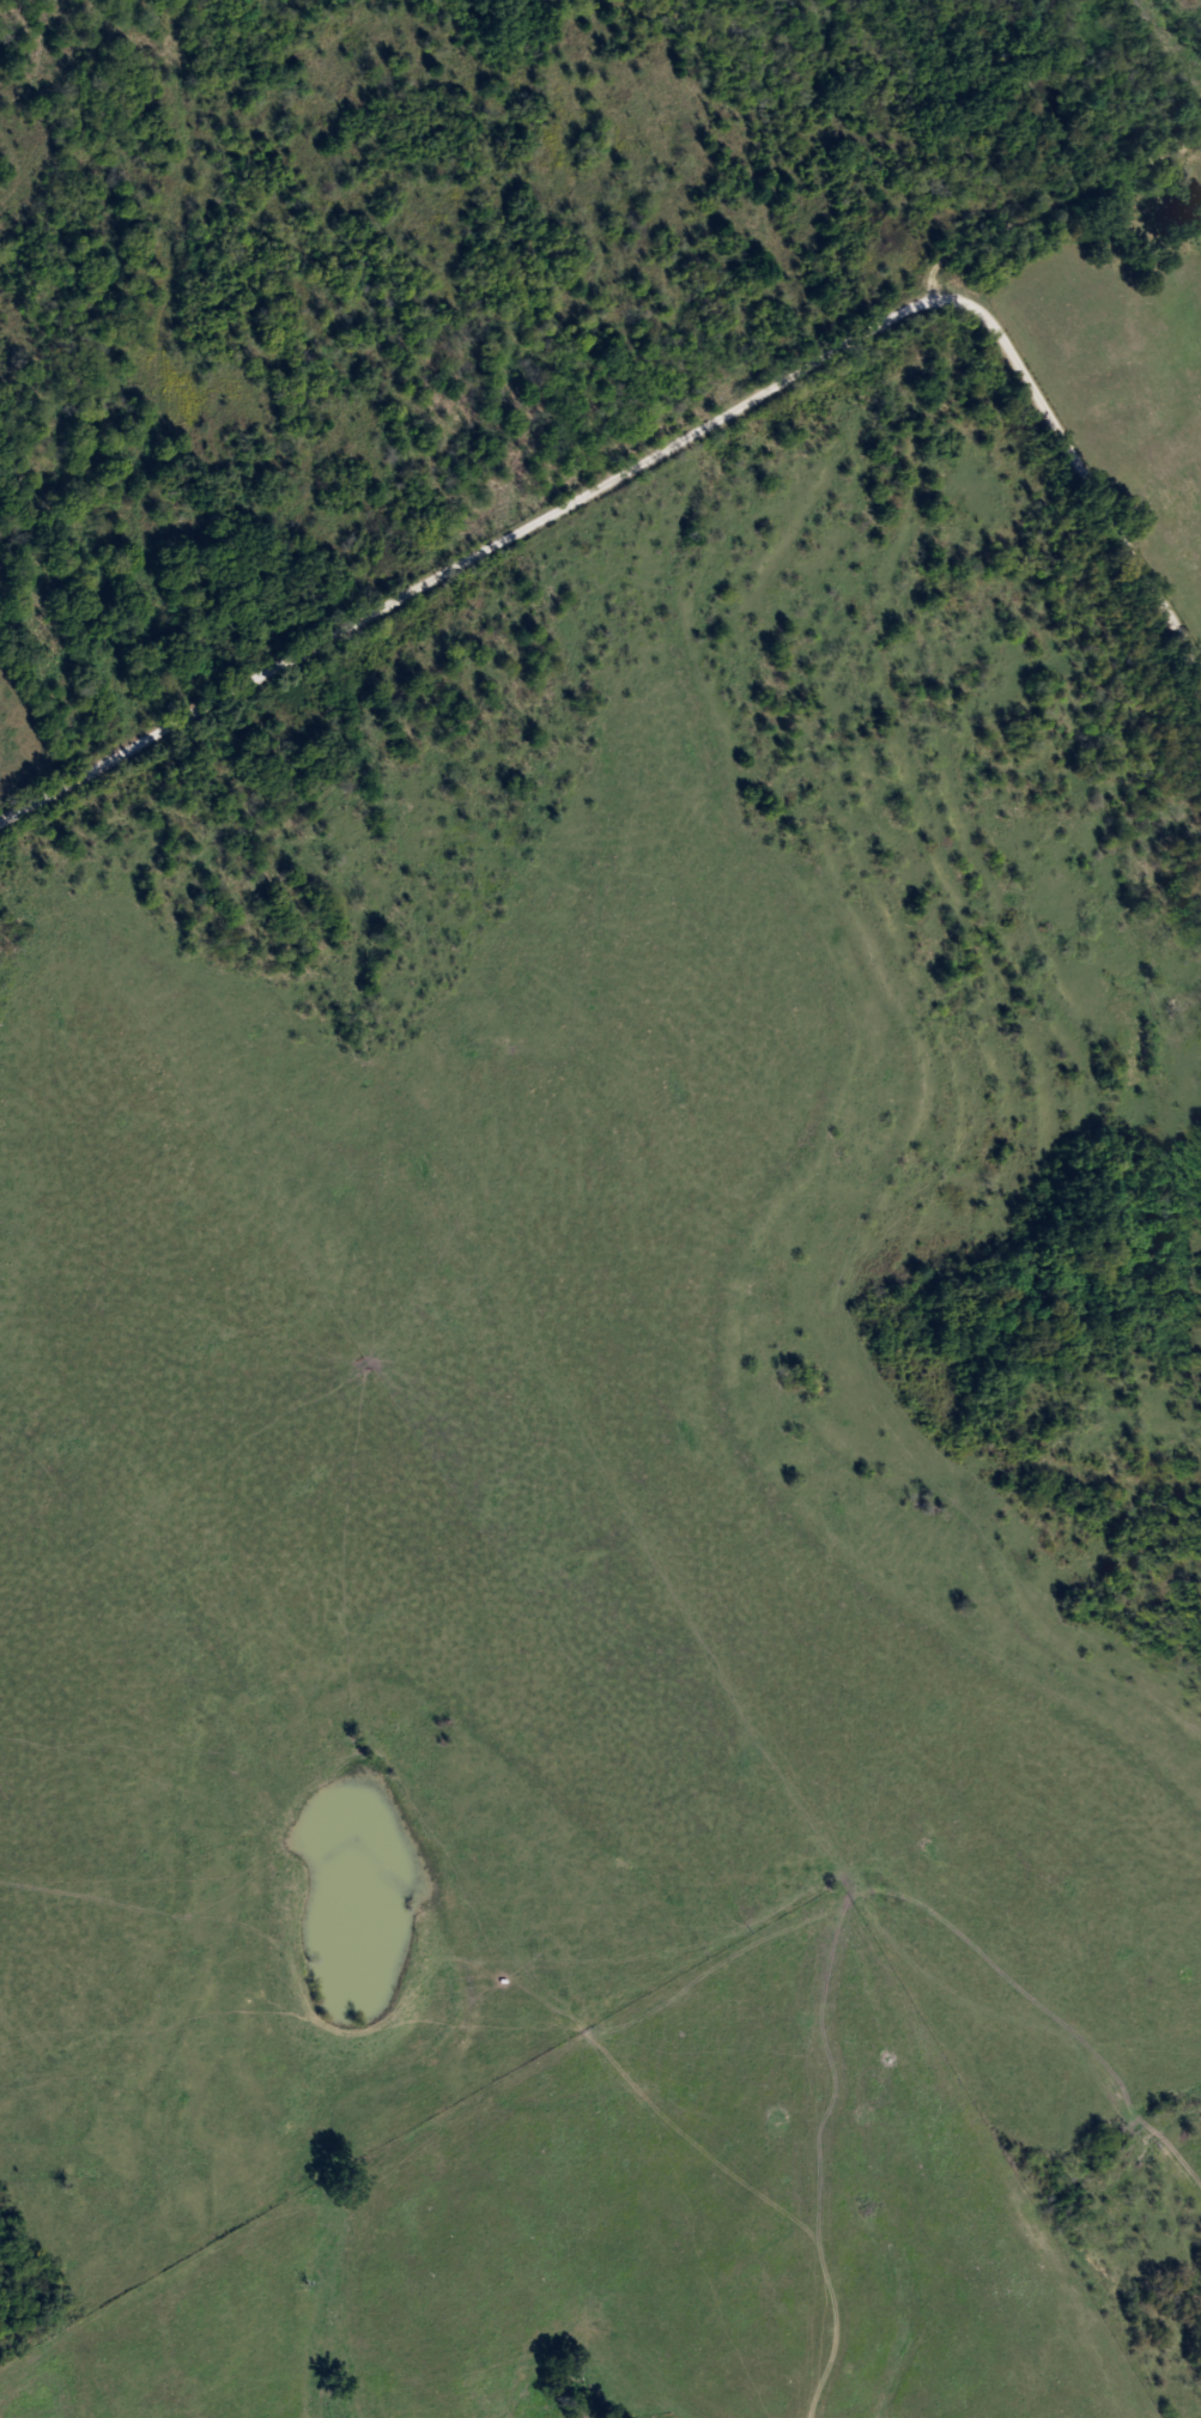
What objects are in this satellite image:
road: (1053, 206)
road: (1075, 466)
road: (187, 507)
road: (463, 559)

